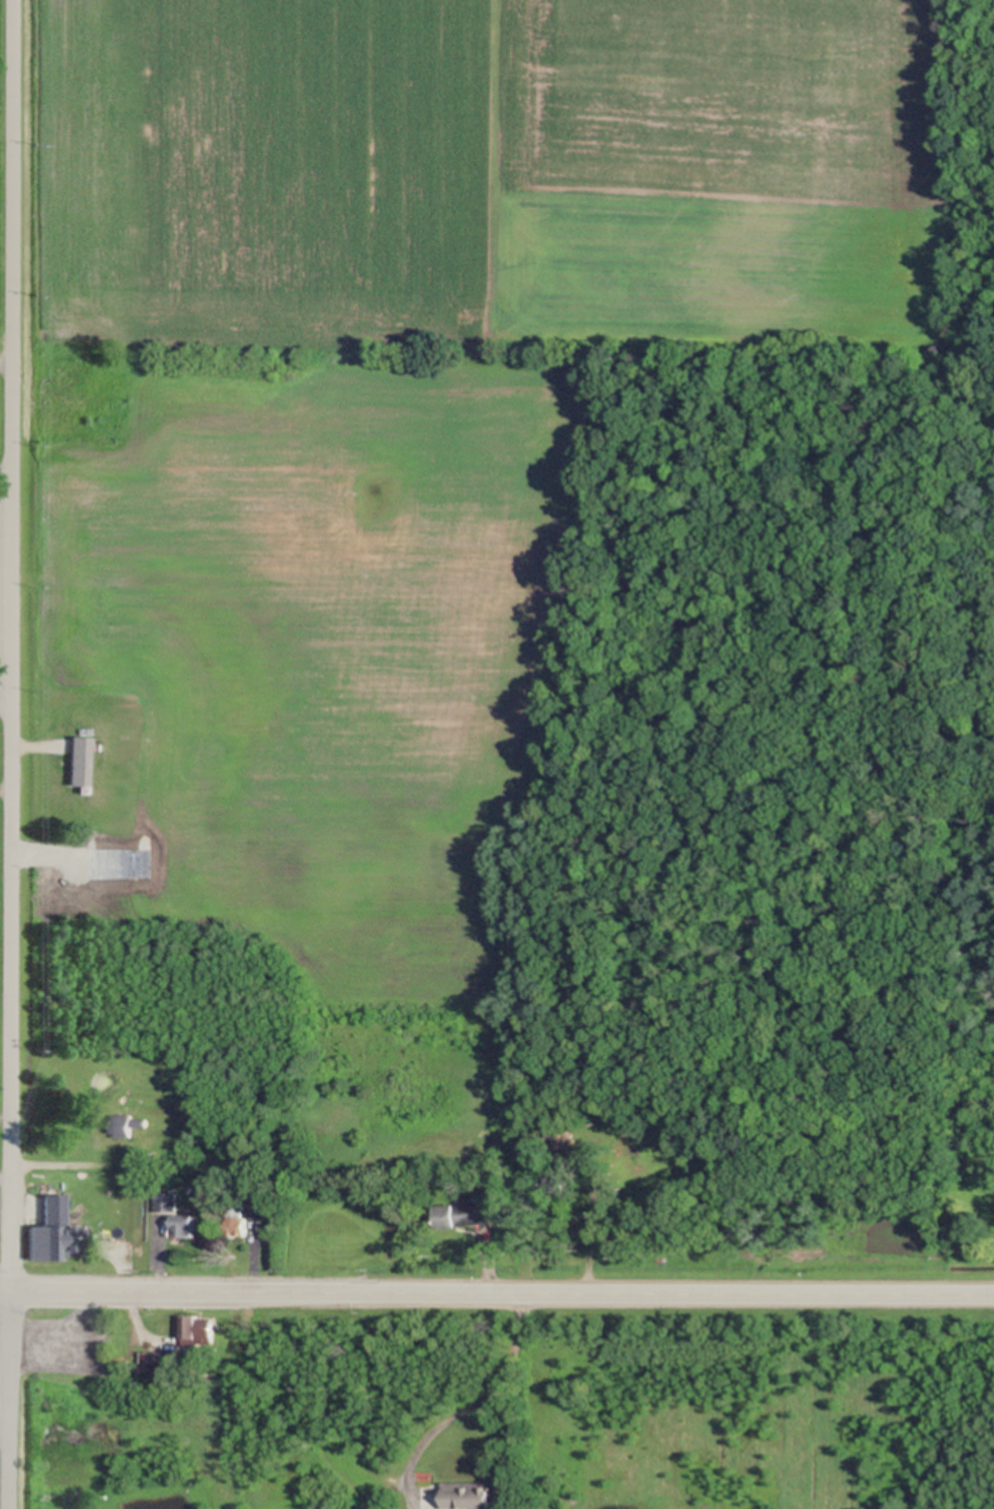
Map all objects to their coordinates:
building: (952, 15)
building: (940, 350)
road: (7, 605)
road: (14, 646)
road: (7, 700)
building: (82, 759)
building: (493, 1007)
building: (174, 1100)
building: (127, 1125)
building: (560, 1133)
building: (578, 1166)
building: (235, 1167)
building: (278, 1169)
building: (556, 1185)
building: (263, 1186)
building: (458, 1200)
building: (164, 1202)
building: (257, 1204)
building: (187, 1210)
building: (462, 1214)
building: (238, 1220)
building: (185, 1225)
building: (227, 1227)
building: (52, 1237)
road: (497, 1293)
building: (194, 1330)
building: (159, 1361)
building: (142, 1363)
road: (465, 1399)
road: (12, 1401)
building: (471, 1494)

